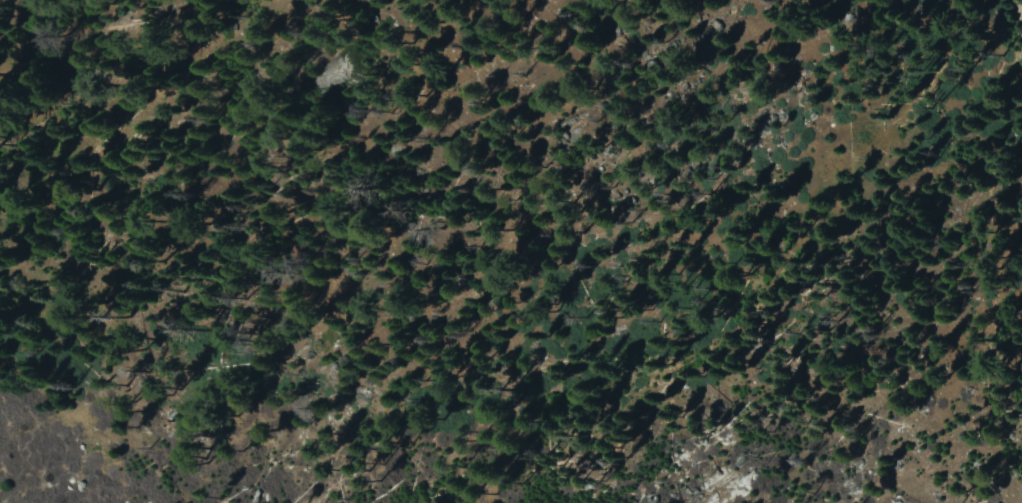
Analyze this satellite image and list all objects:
road: (1018, 27)

